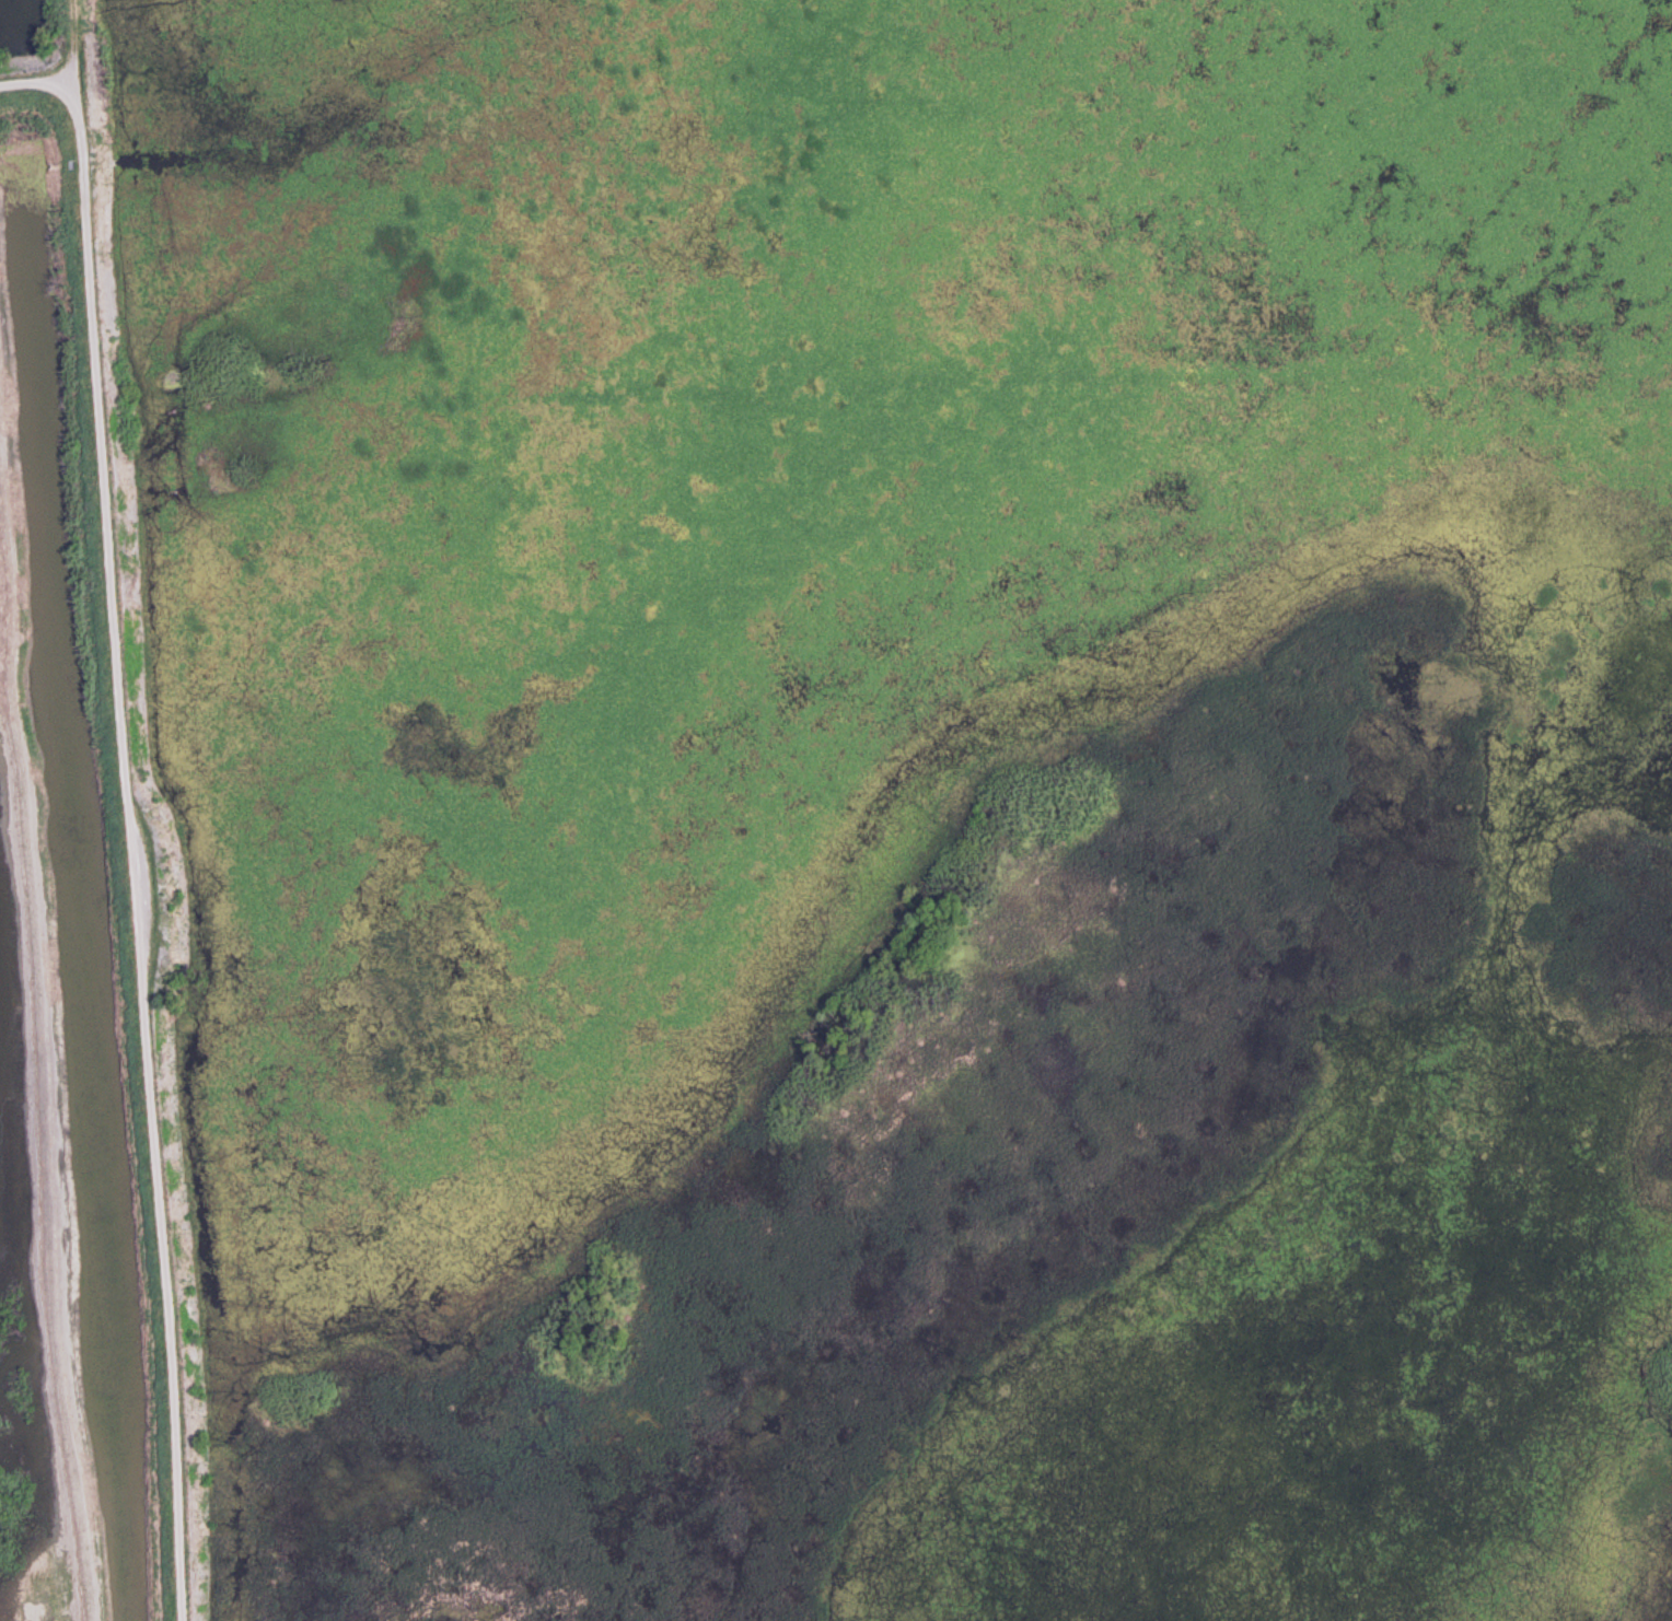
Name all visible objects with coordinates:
road: (130, 810)

